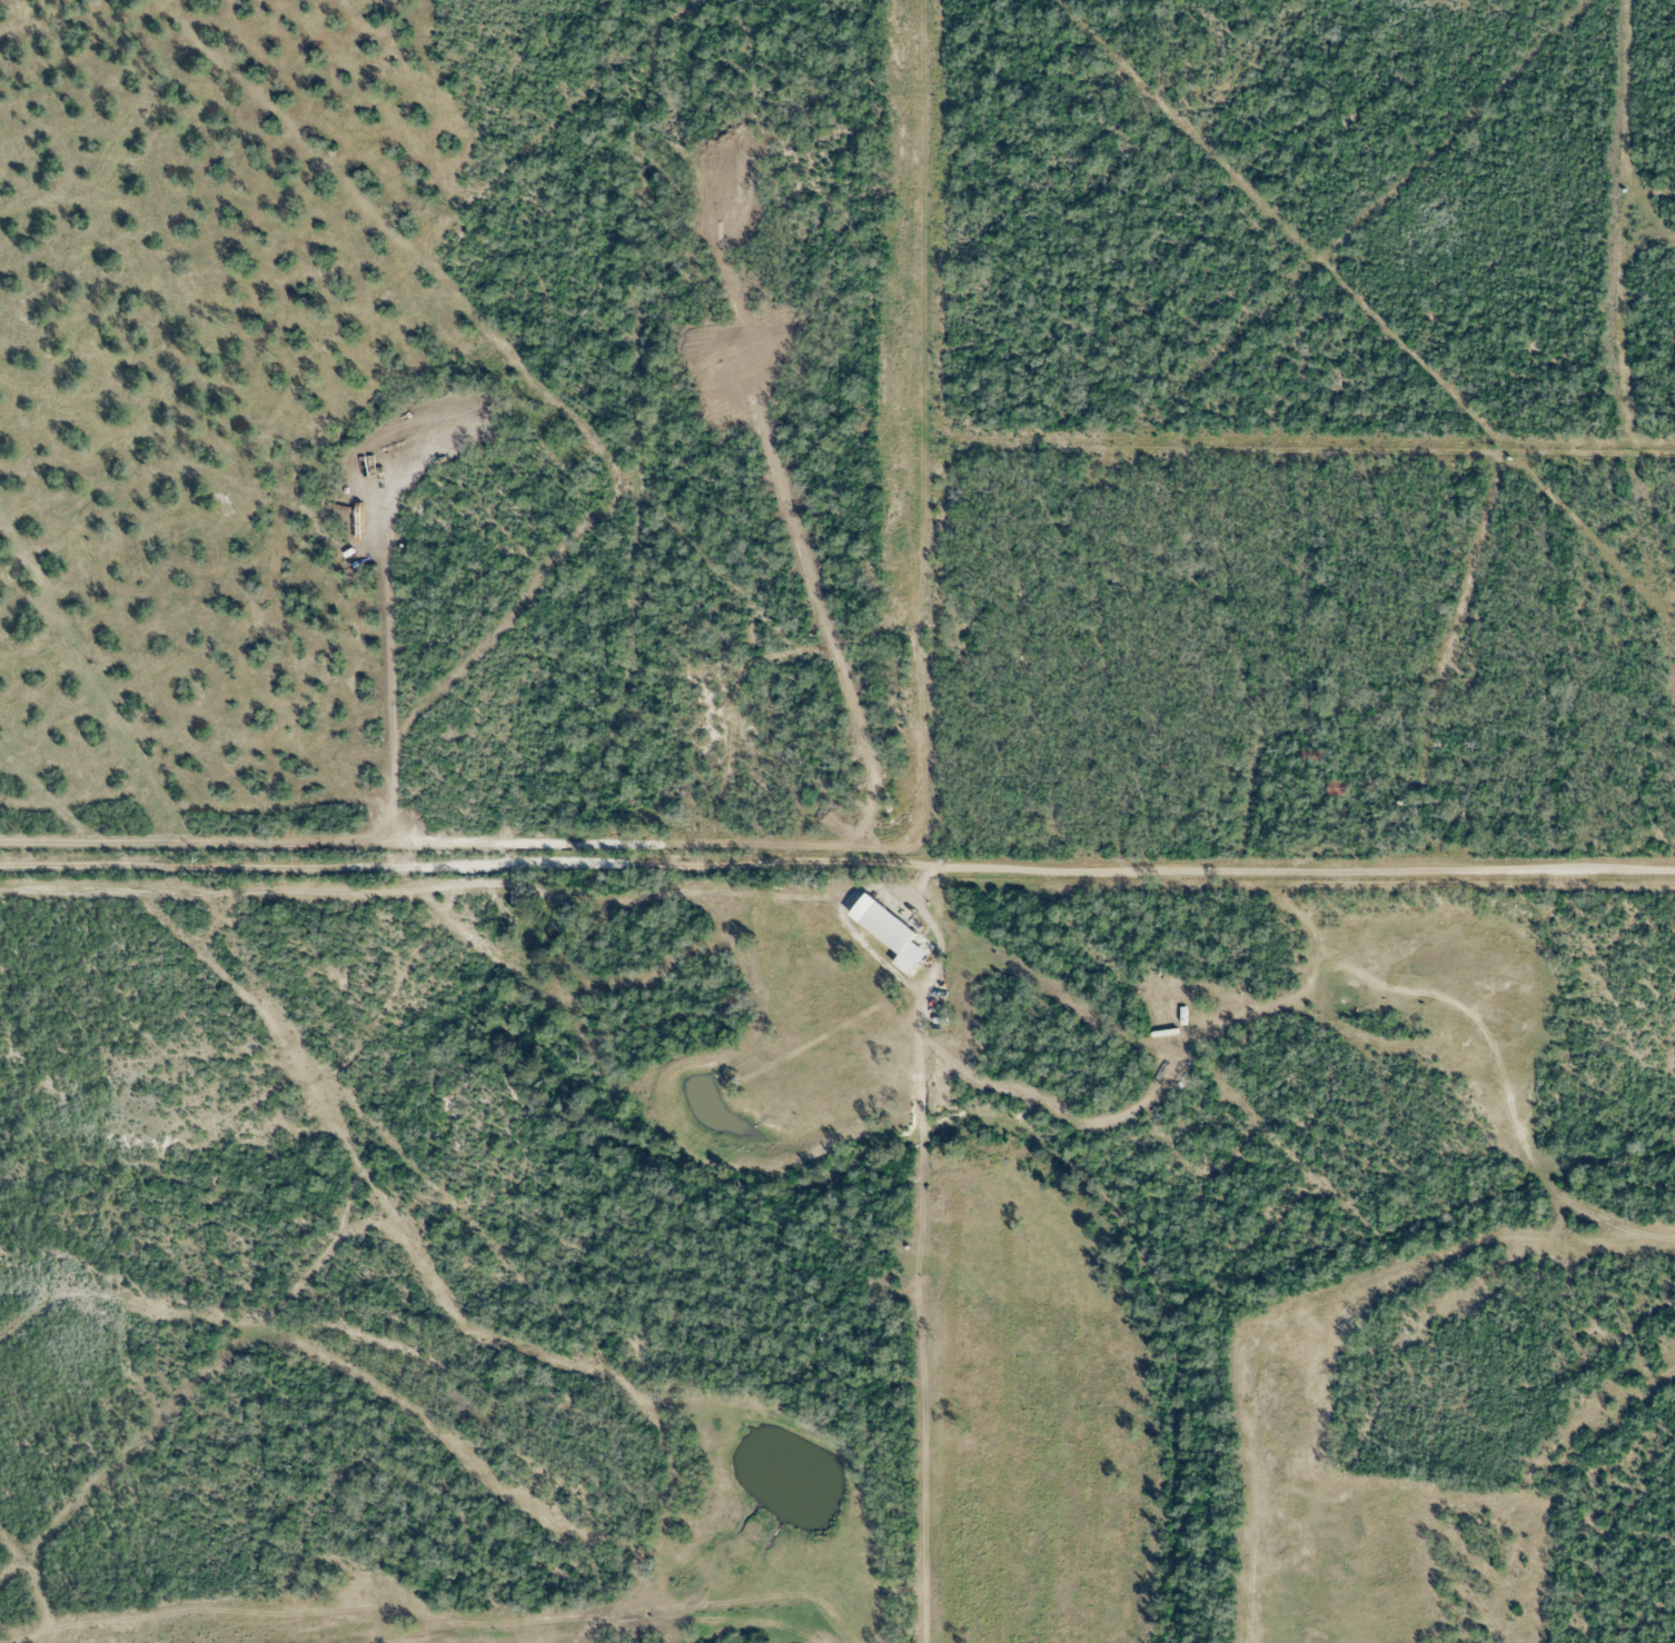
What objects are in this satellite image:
road: (1300, 864)
building: (882, 922)
building: (919, 948)
building: (901, 960)

